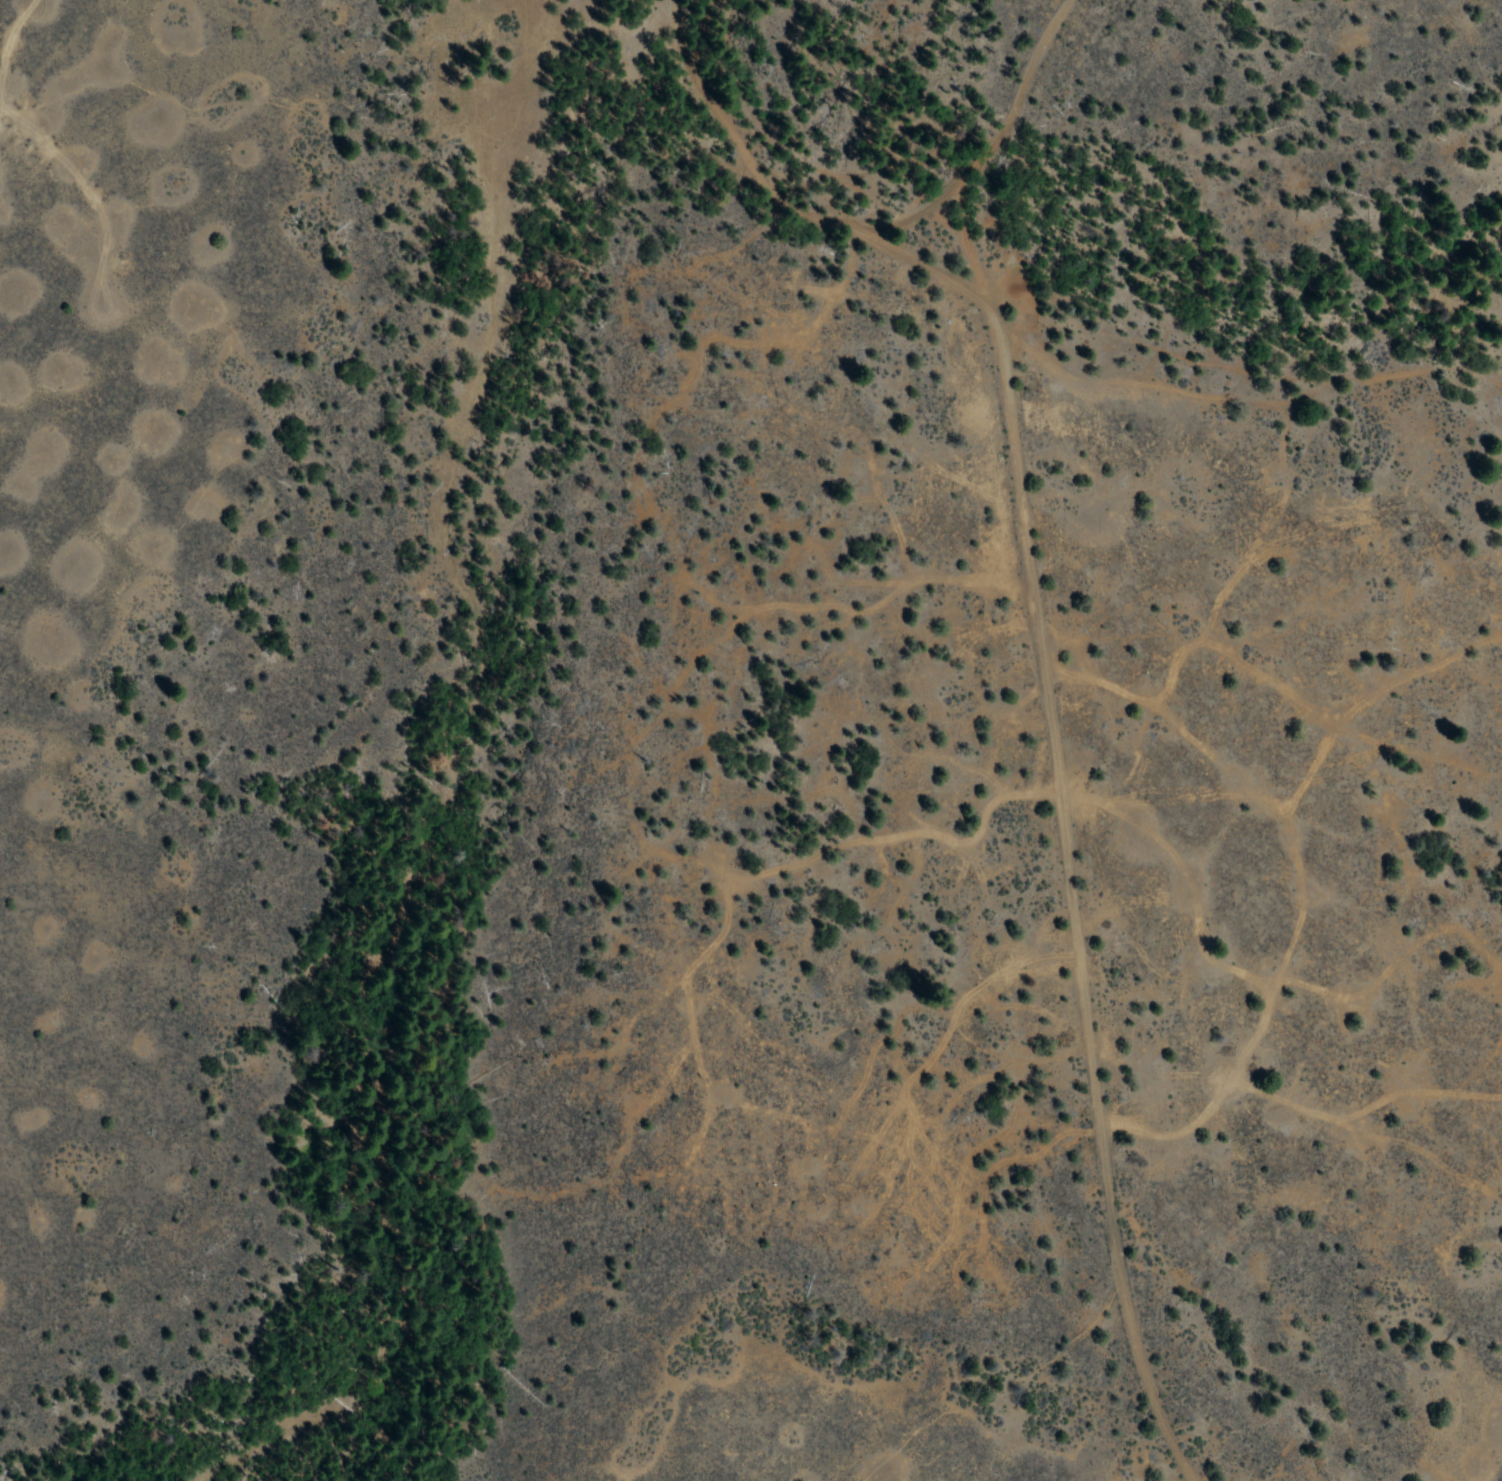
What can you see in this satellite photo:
road: (998, 312)
road: (1064, 868)
road: (1178, 1456)

